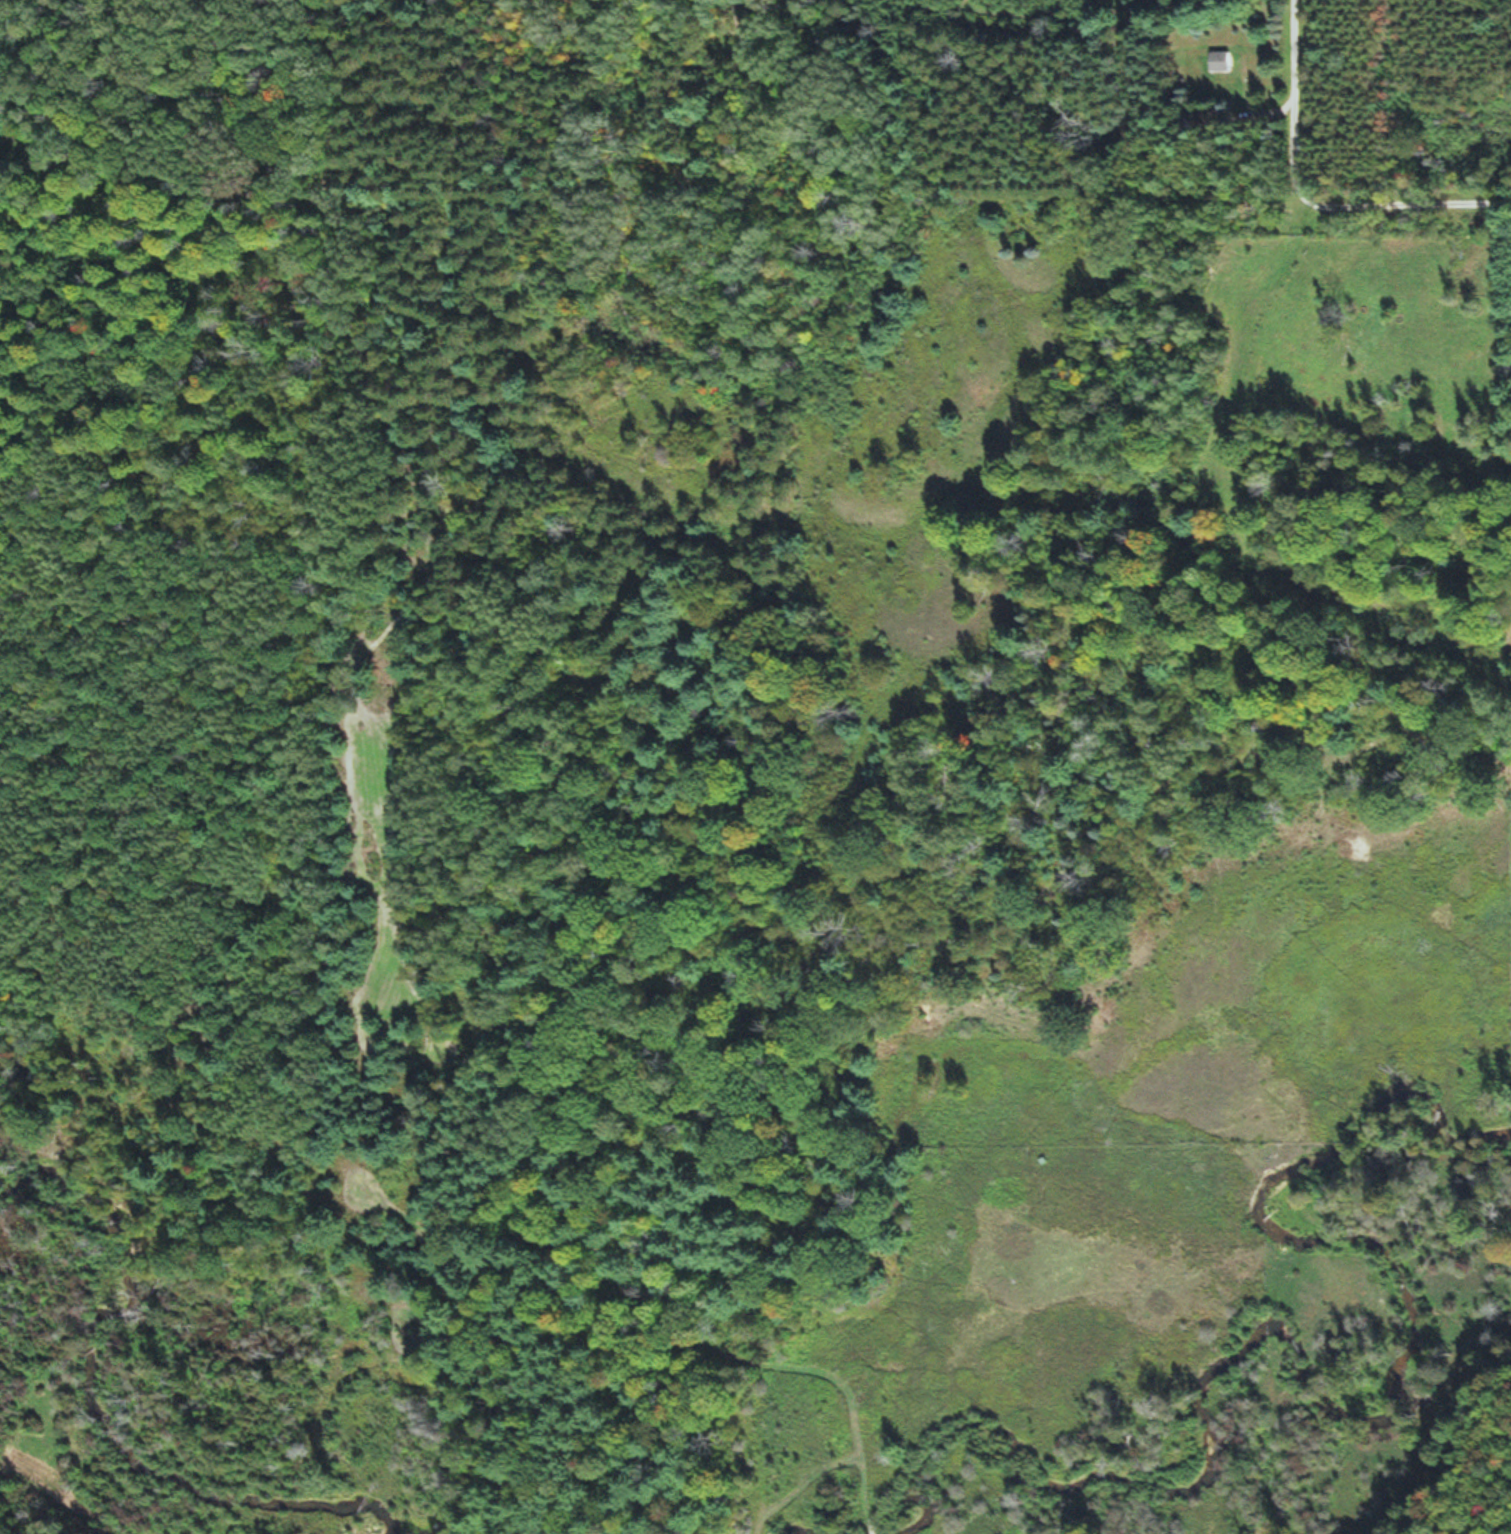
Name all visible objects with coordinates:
building: (1217, 60)

